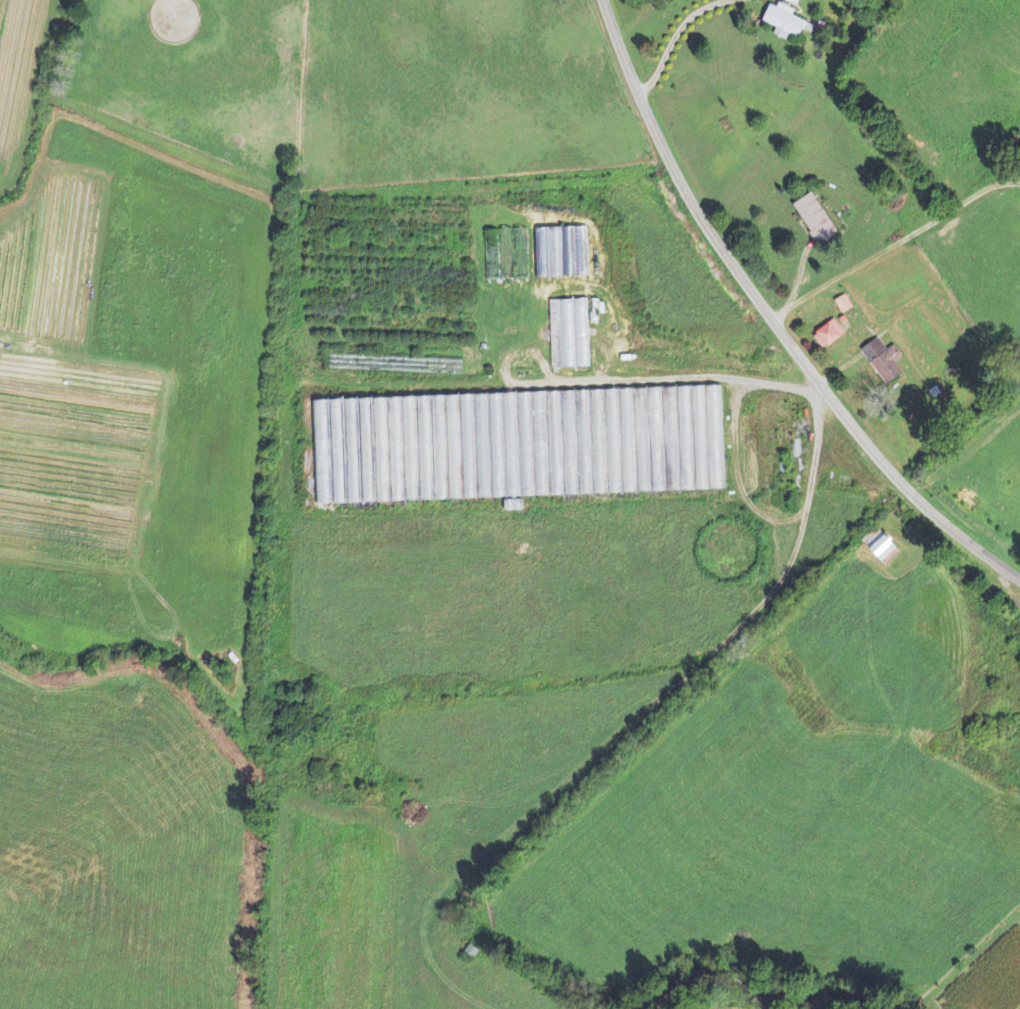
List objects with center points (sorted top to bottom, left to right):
building: (786, 22)
road: (671, 165)
building: (818, 220)
road: (880, 233)
building: (564, 252)
building: (845, 304)
building: (572, 333)
building: (830, 334)
building: (886, 360)
building: (485, 442)
road: (883, 462)
building: (889, 550)
river: (748, 971)

